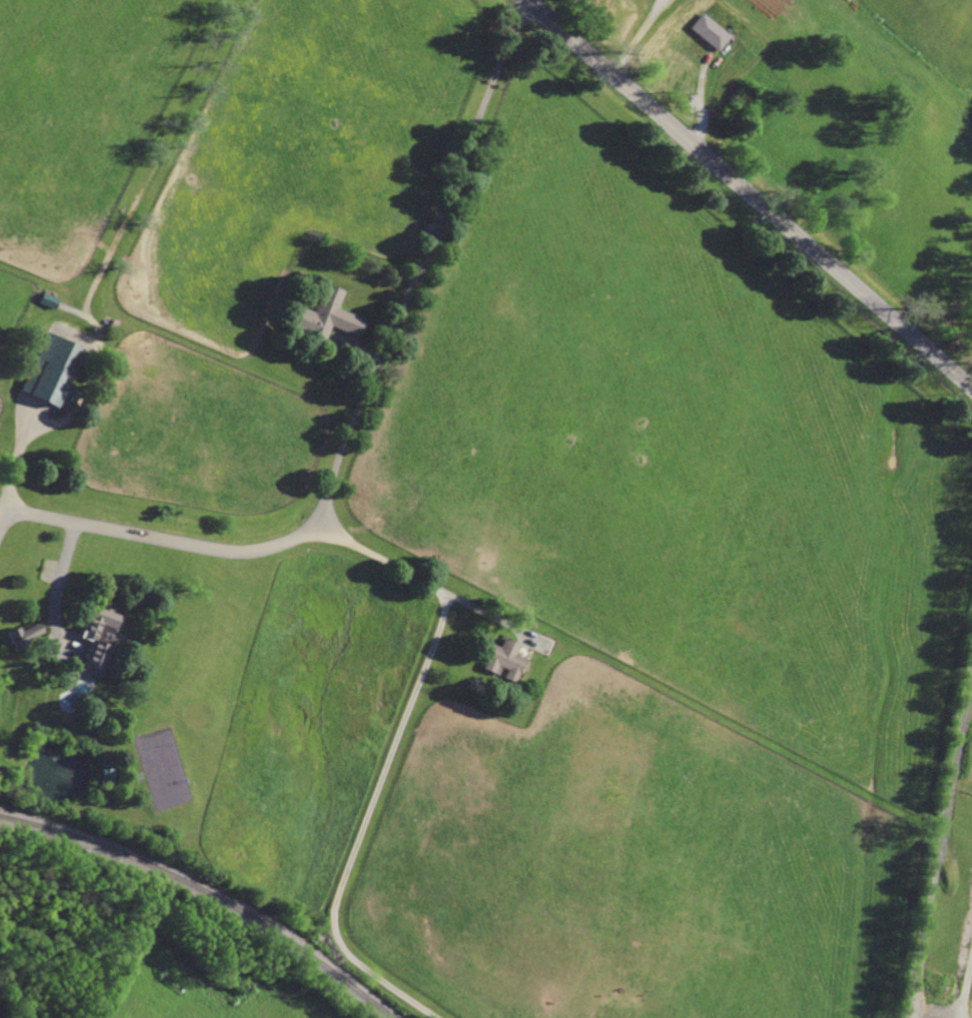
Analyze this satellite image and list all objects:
building: (709, 30)
road: (638, 37)
road: (750, 193)
building: (300, 273)
building: (47, 299)
building: (324, 315)
building: (107, 316)
building: (112, 324)
building: (52, 371)
road: (359, 415)
road: (14, 464)
road: (59, 578)
road: (420, 580)
building: (25, 634)
building: (97, 637)
building: (543, 644)
building: (501, 659)
building: (106, 770)
road: (364, 825)
railway: (209, 893)

